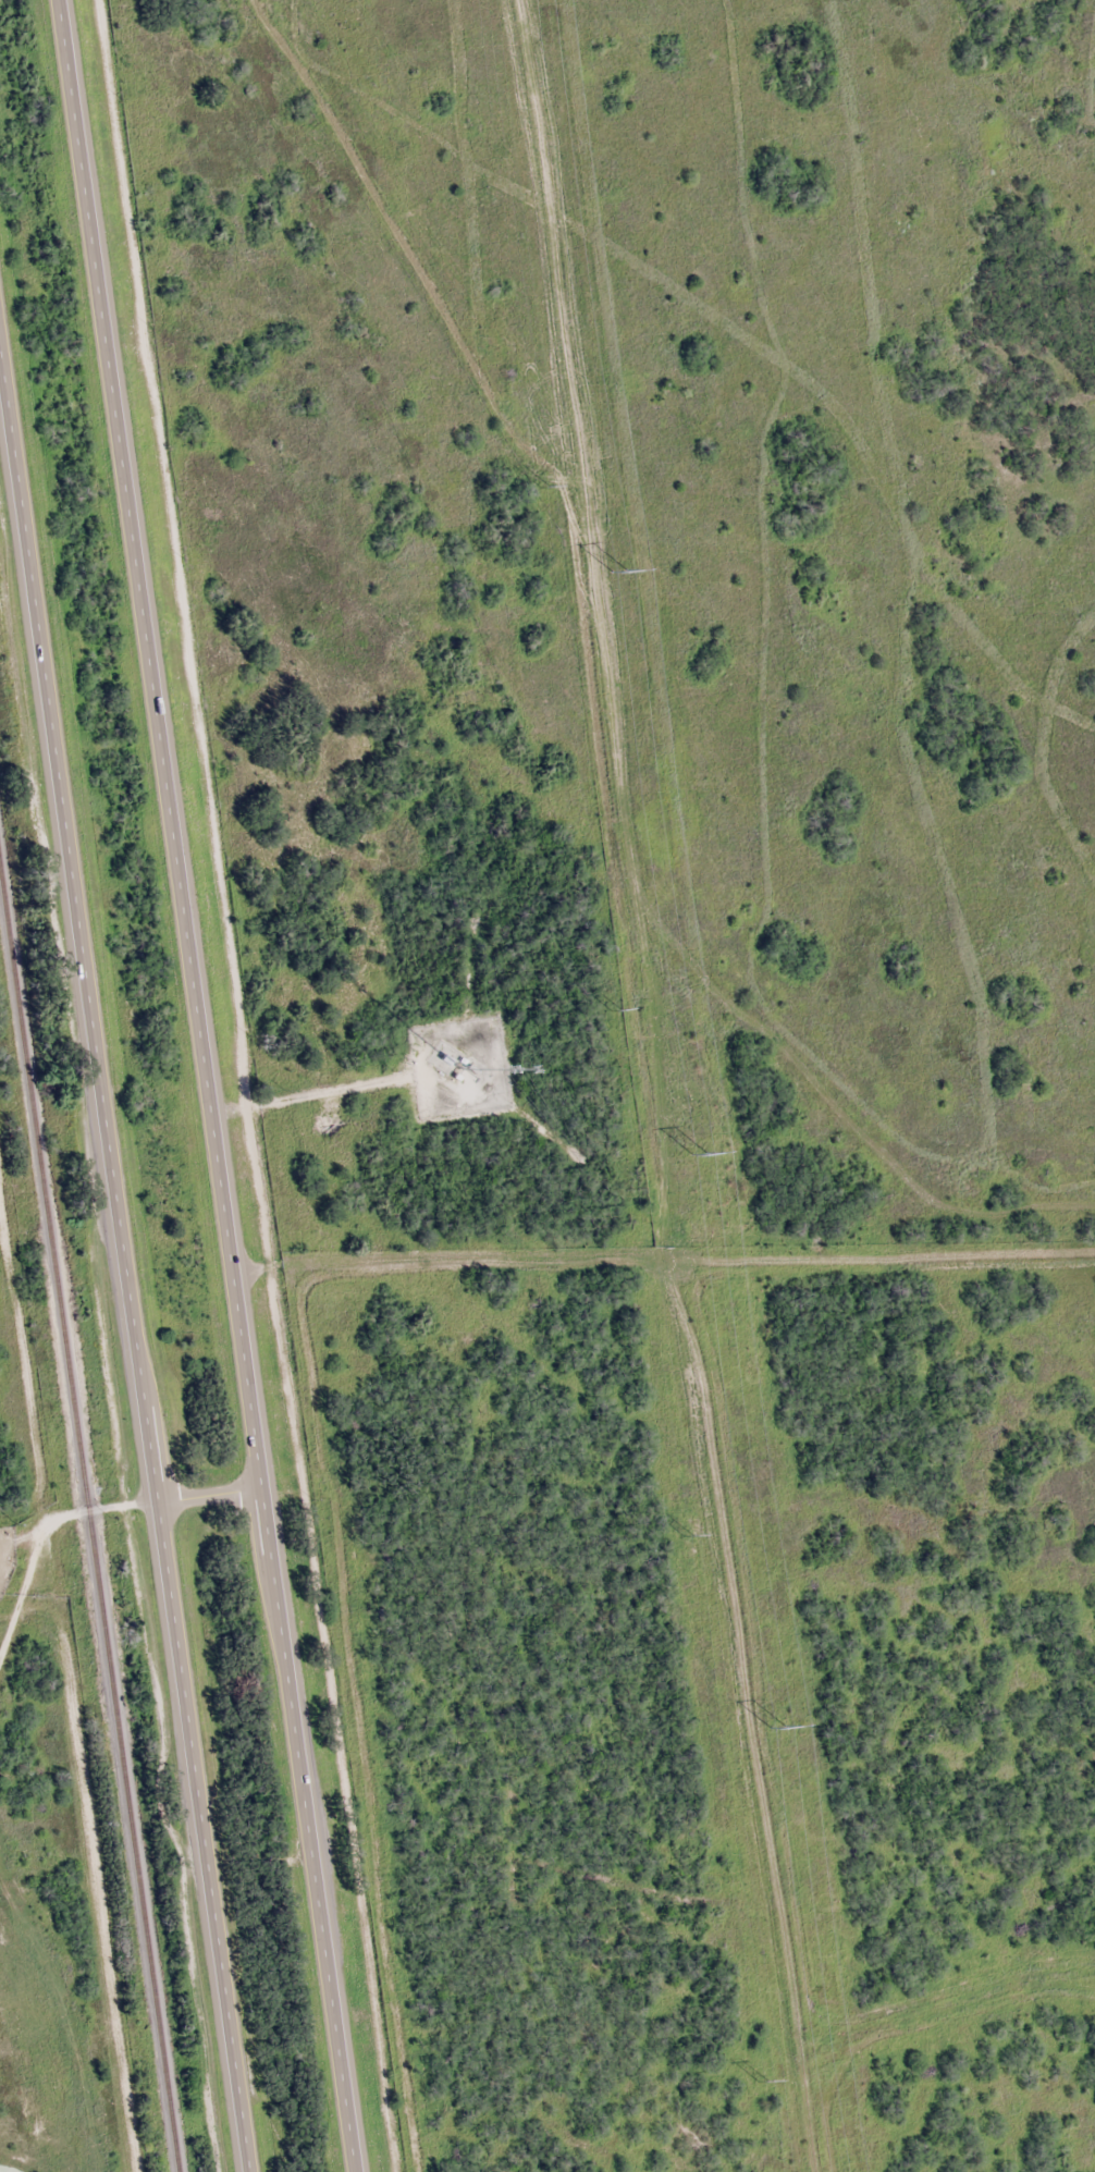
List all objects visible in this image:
power tower: (543, 487)
power tower: (616, 574)
road: (785, 862)
power tower: (614, 1009)
road: (211, 1085)
power tower: (696, 1155)
road: (122, 1260)
road: (212, 1494)
road: (40, 1532)
railway: (87, 1533)
power tower: (687, 1535)
road: (782, 1536)
power tower: (776, 1730)
power tower: (761, 2081)

